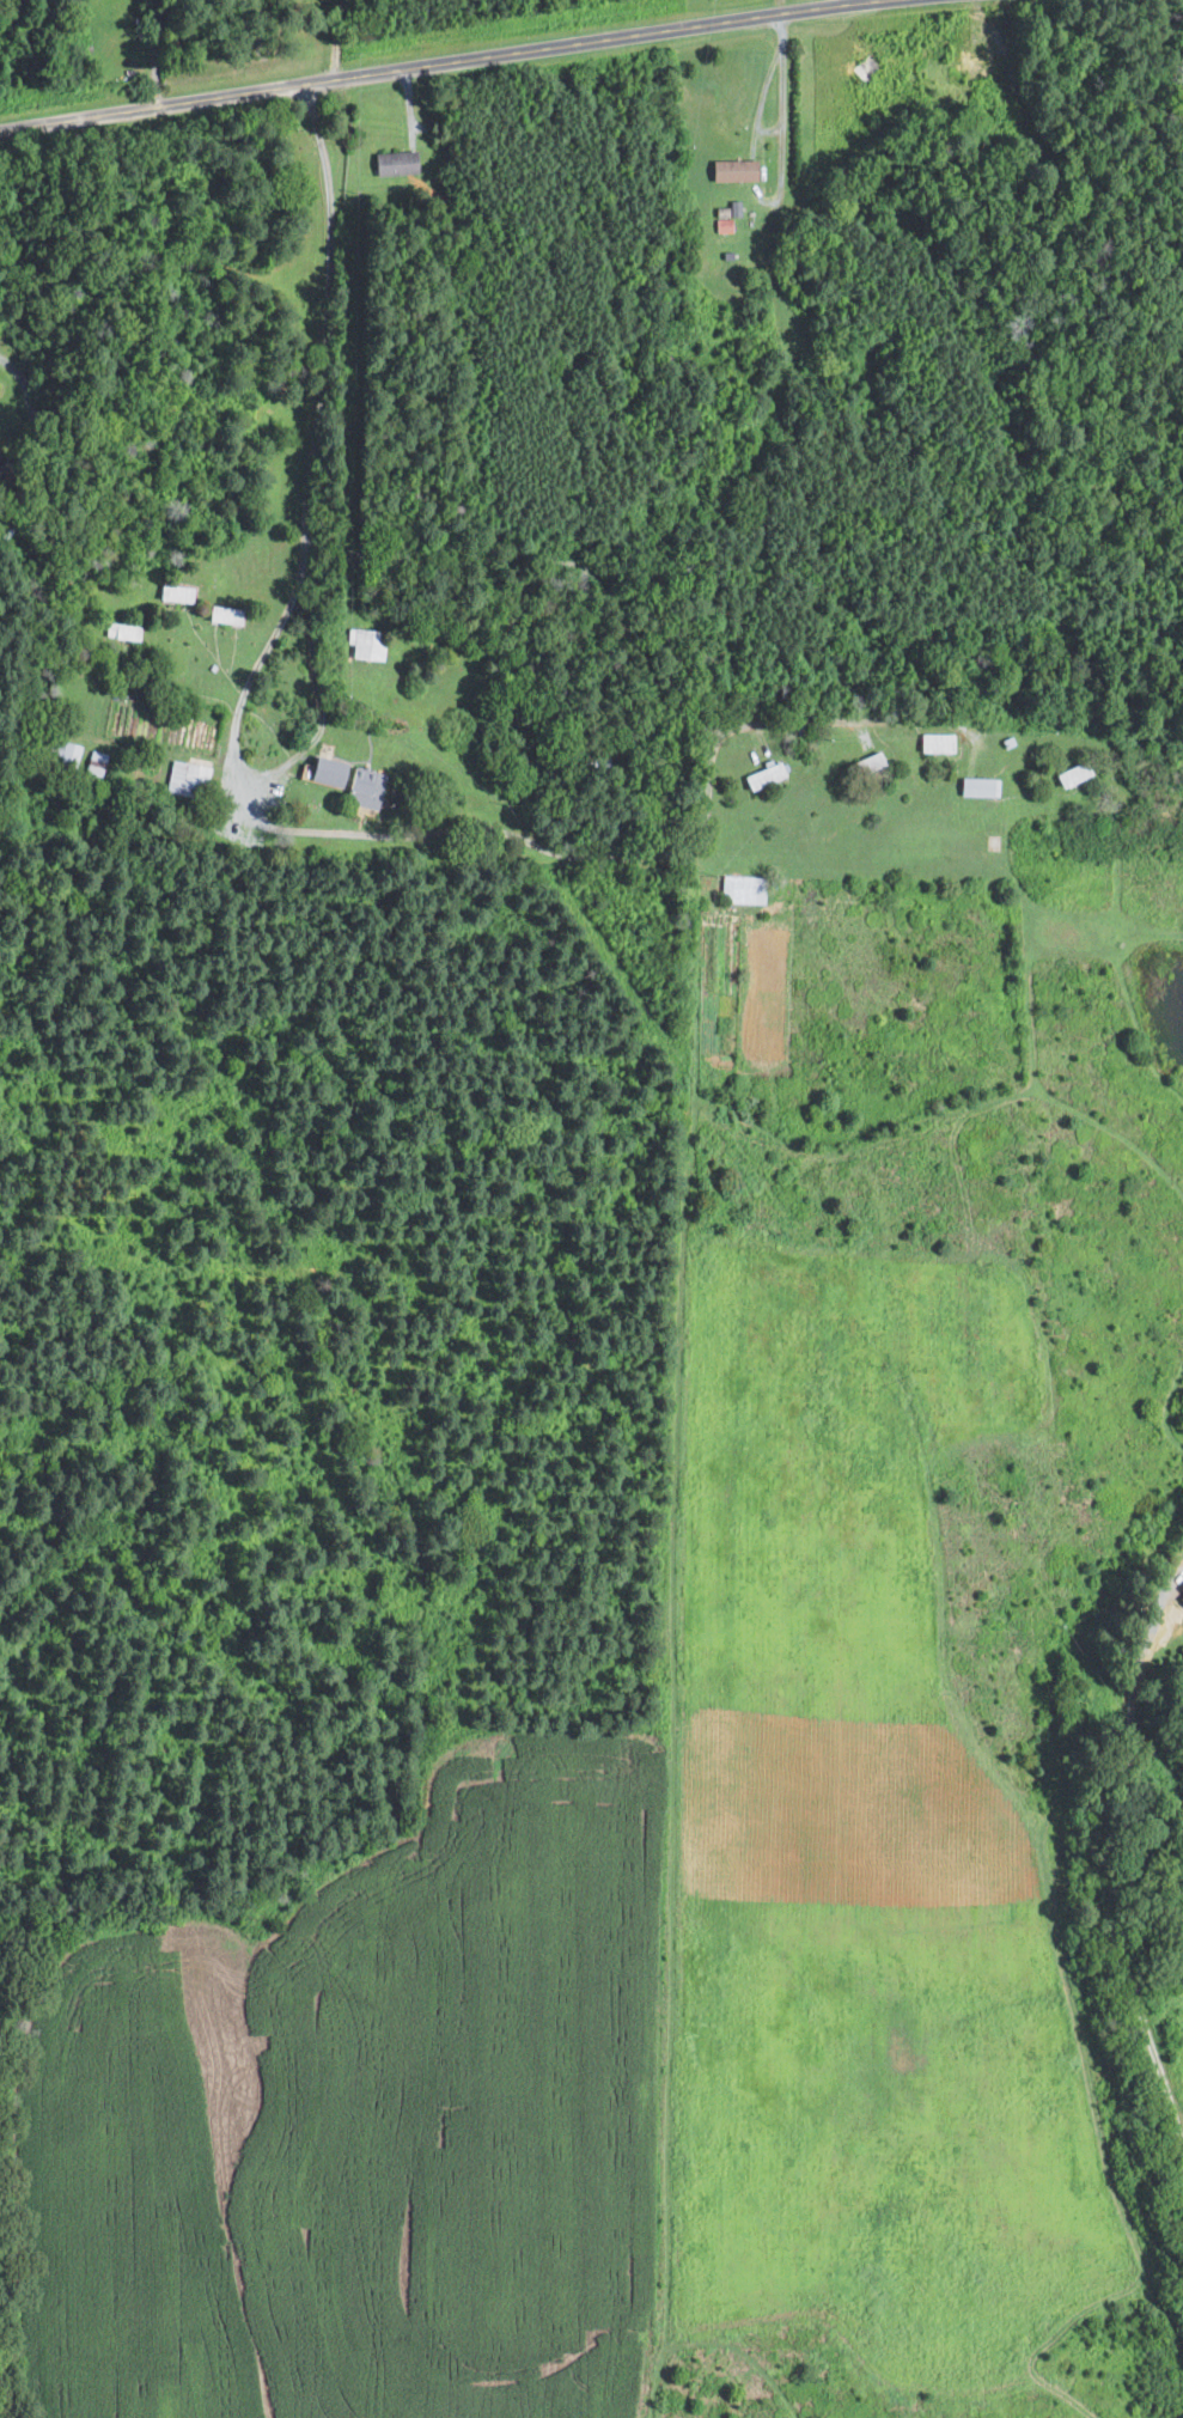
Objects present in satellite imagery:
road: (336, 37)
road: (427, 61)
building: (864, 73)
road: (780, 126)
building: (394, 163)
building: (731, 170)
building: (732, 208)
building: (726, 226)
building: (731, 254)
road: (38, 436)
building: (173, 593)
building: (221, 615)
building: (121, 632)
building: (364, 645)
road: (321, 696)
building: (195, 736)
building: (934, 743)
building: (67, 754)
building: (96, 762)
building: (324, 772)
building: (1072, 774)
building: (761, 775)
building: (185, 778)
building: (361, 787)
building: (977, 787)
road: (286, 828)
building: (742, 889)
building: (1182, 1588)
building: (1181, 1601)
road: (1130, 1883)

